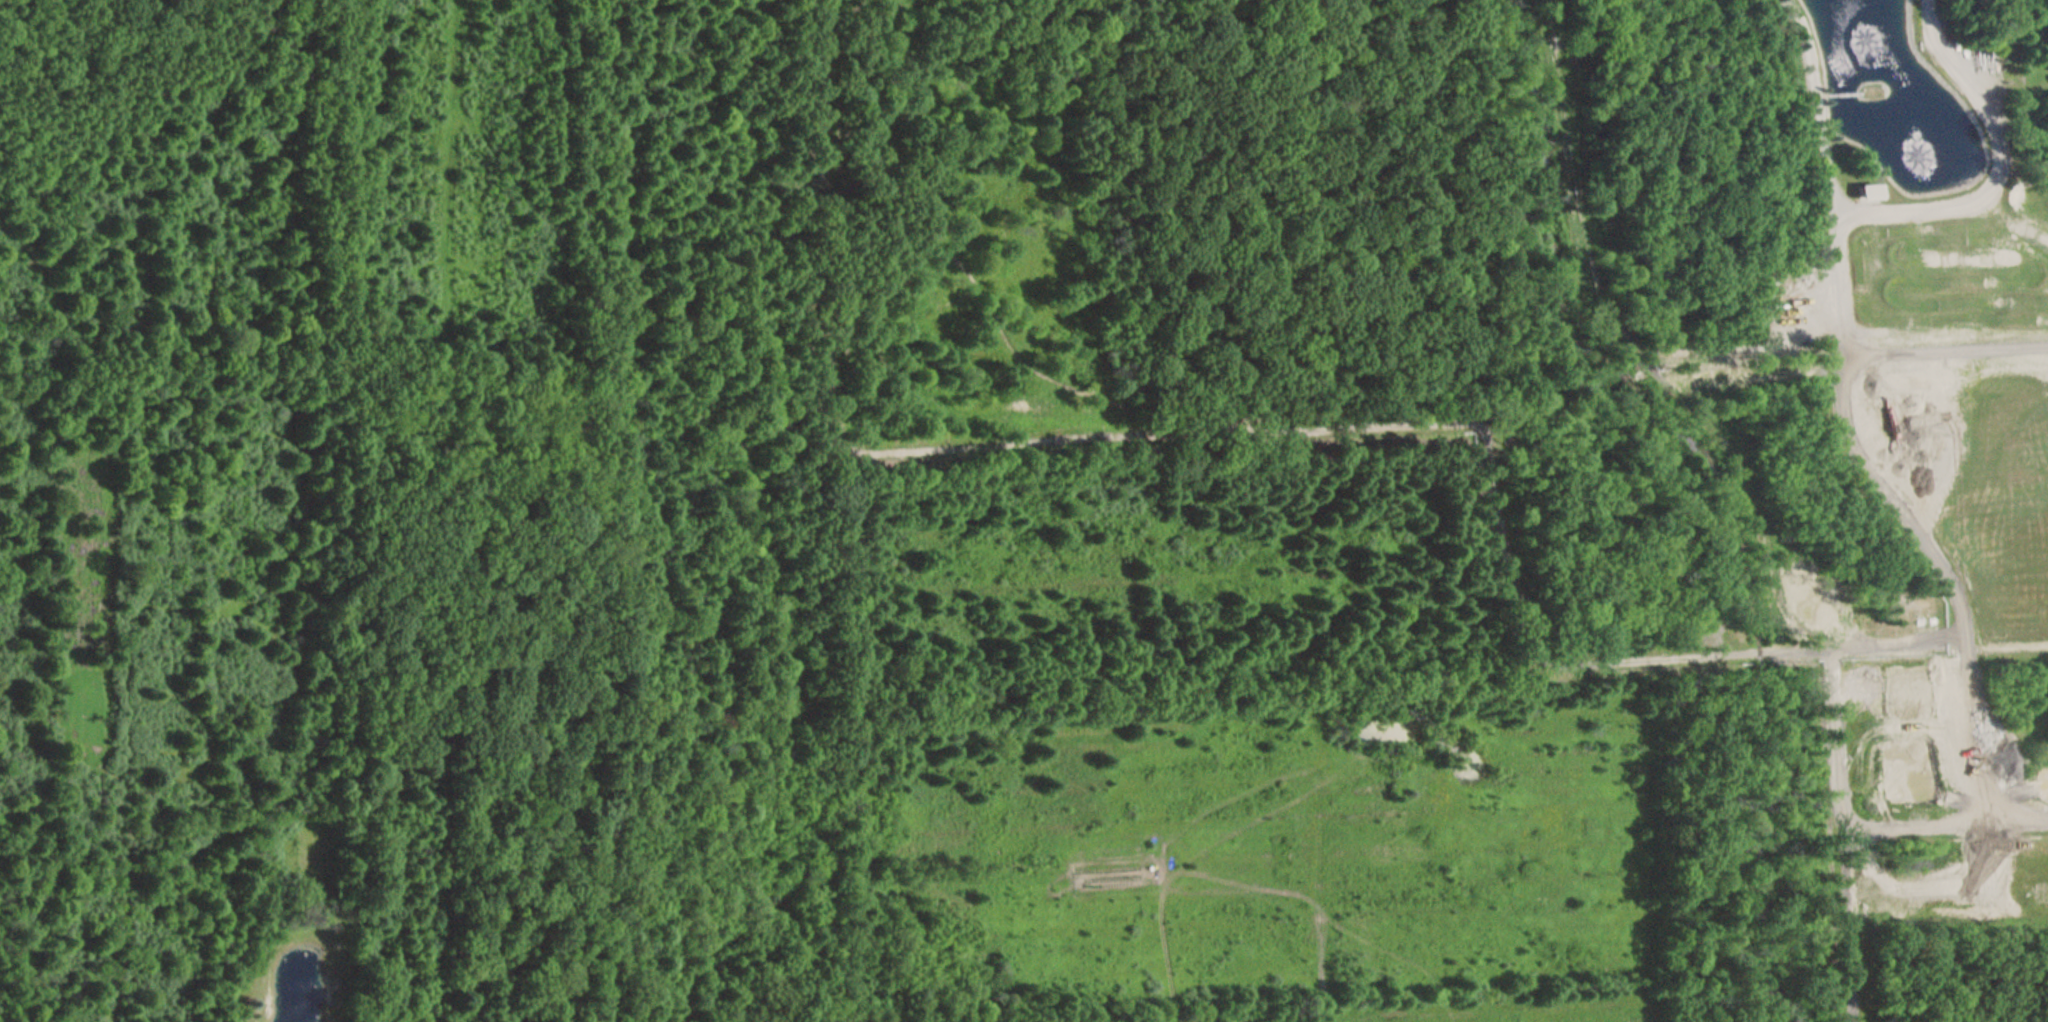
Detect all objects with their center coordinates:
road: (1994, 161)
road: (1845, 430)
road: (2028, 813)

